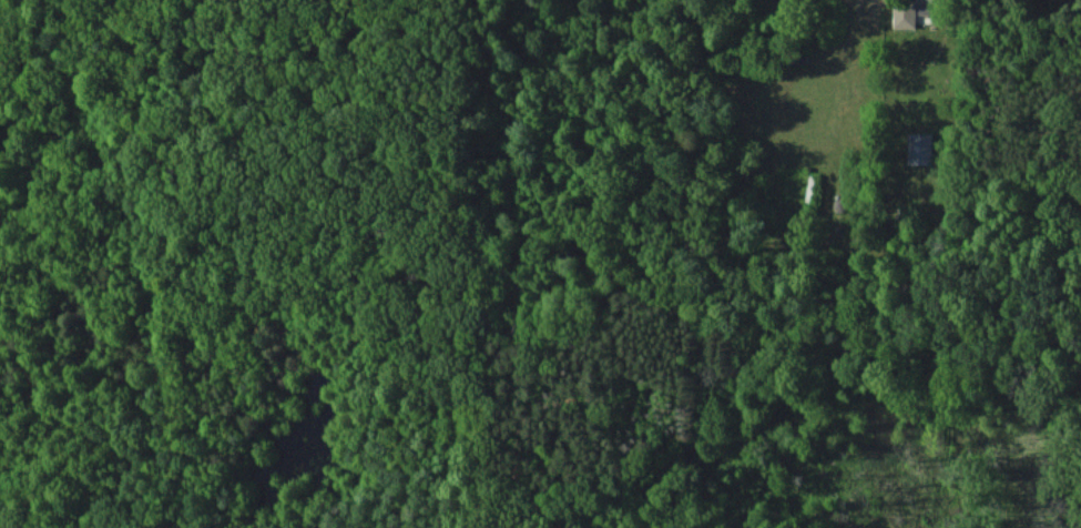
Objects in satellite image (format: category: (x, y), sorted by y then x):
building: (915, 11)
building: (919, 148)

